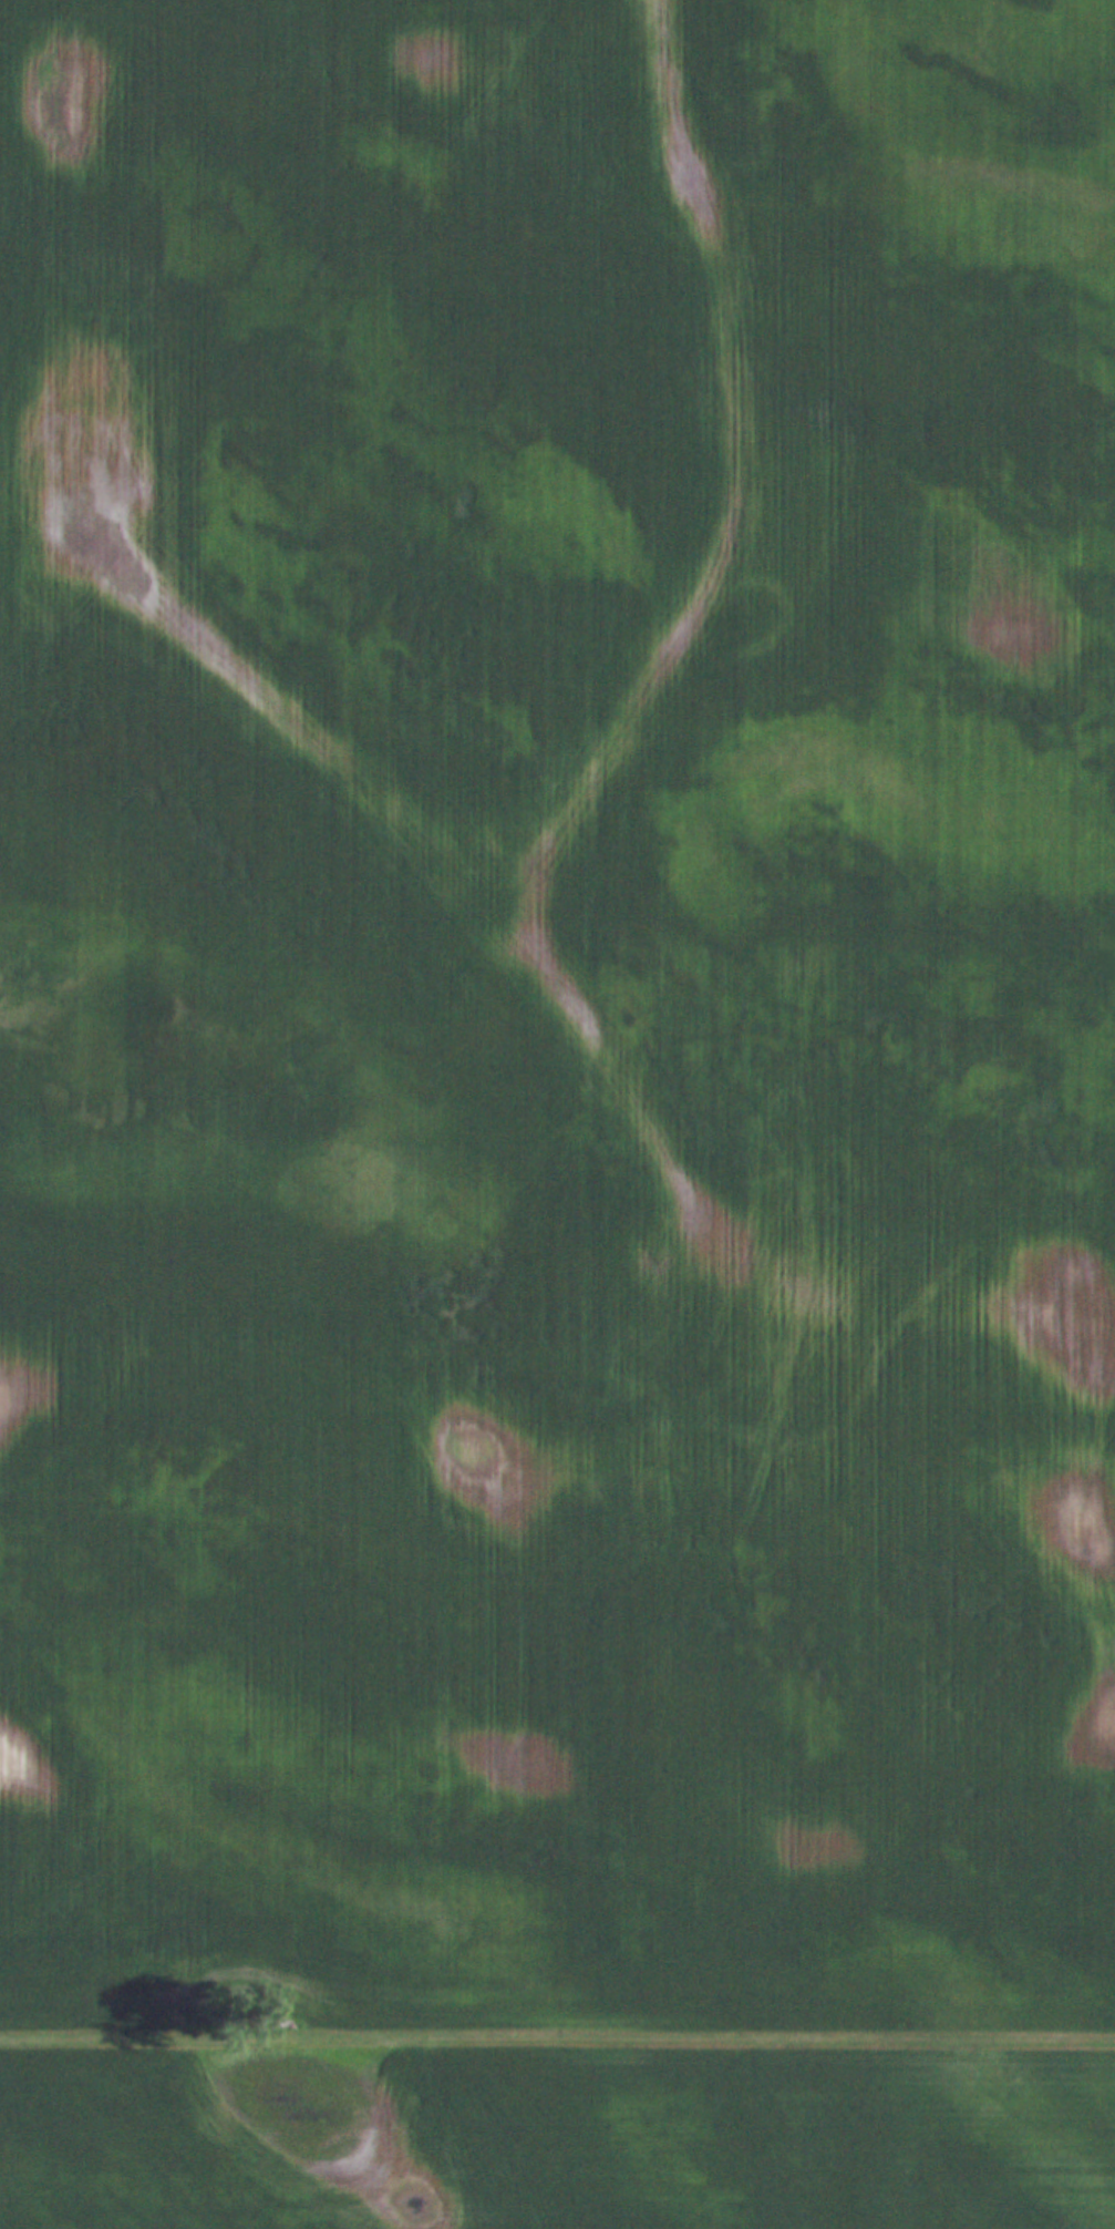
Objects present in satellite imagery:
road: (557, 2040)
crop: (554, 2137)

